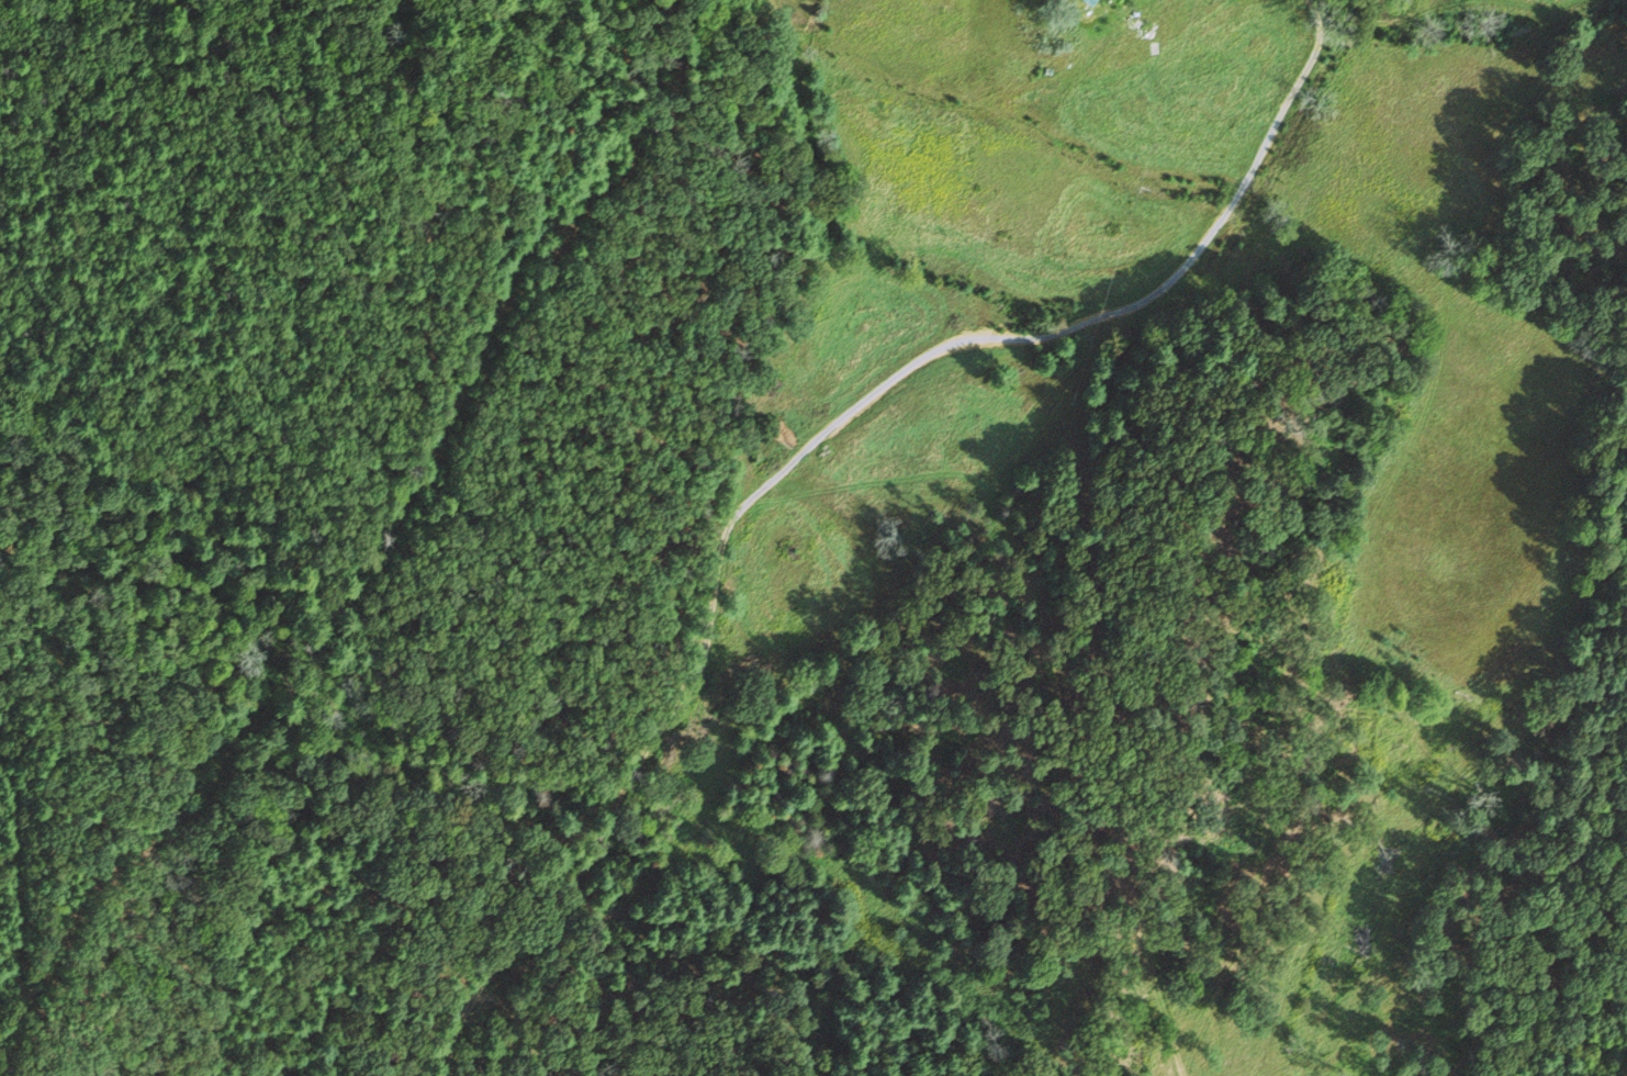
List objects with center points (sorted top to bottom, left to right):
building: (1089, 3)
road: (1092, 497)
road: (715, 599)

